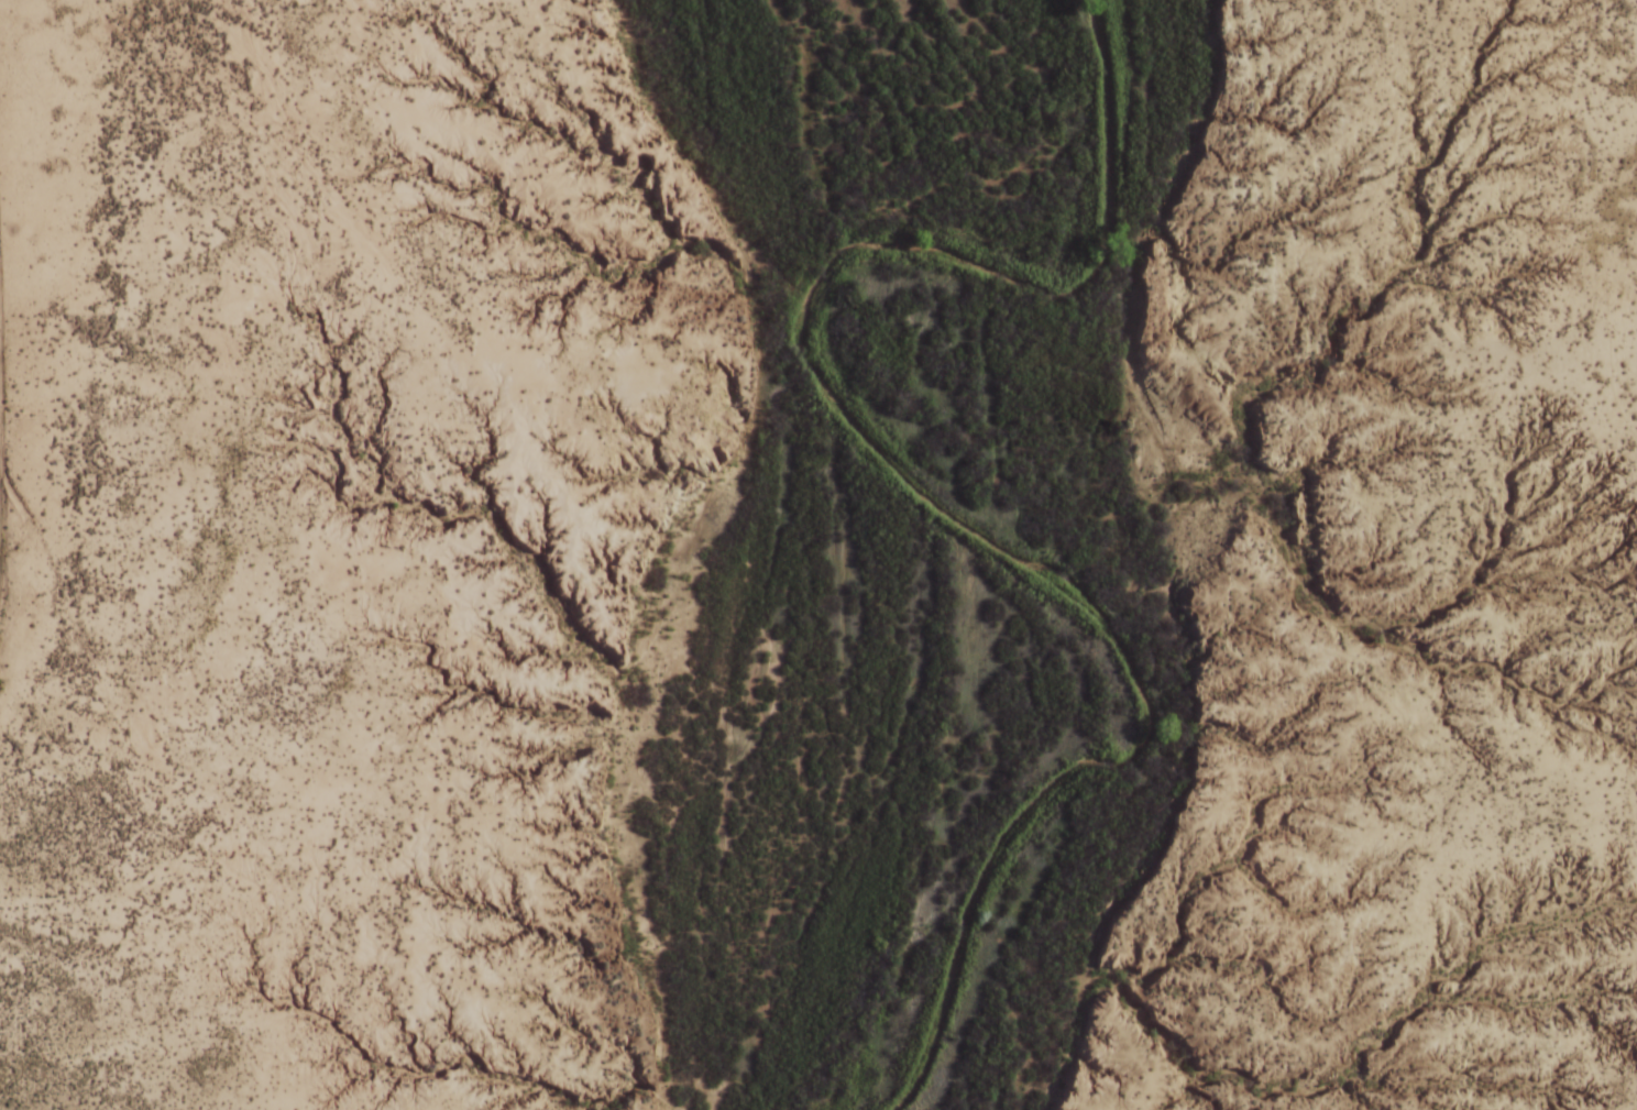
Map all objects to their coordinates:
river: (769, 498)

